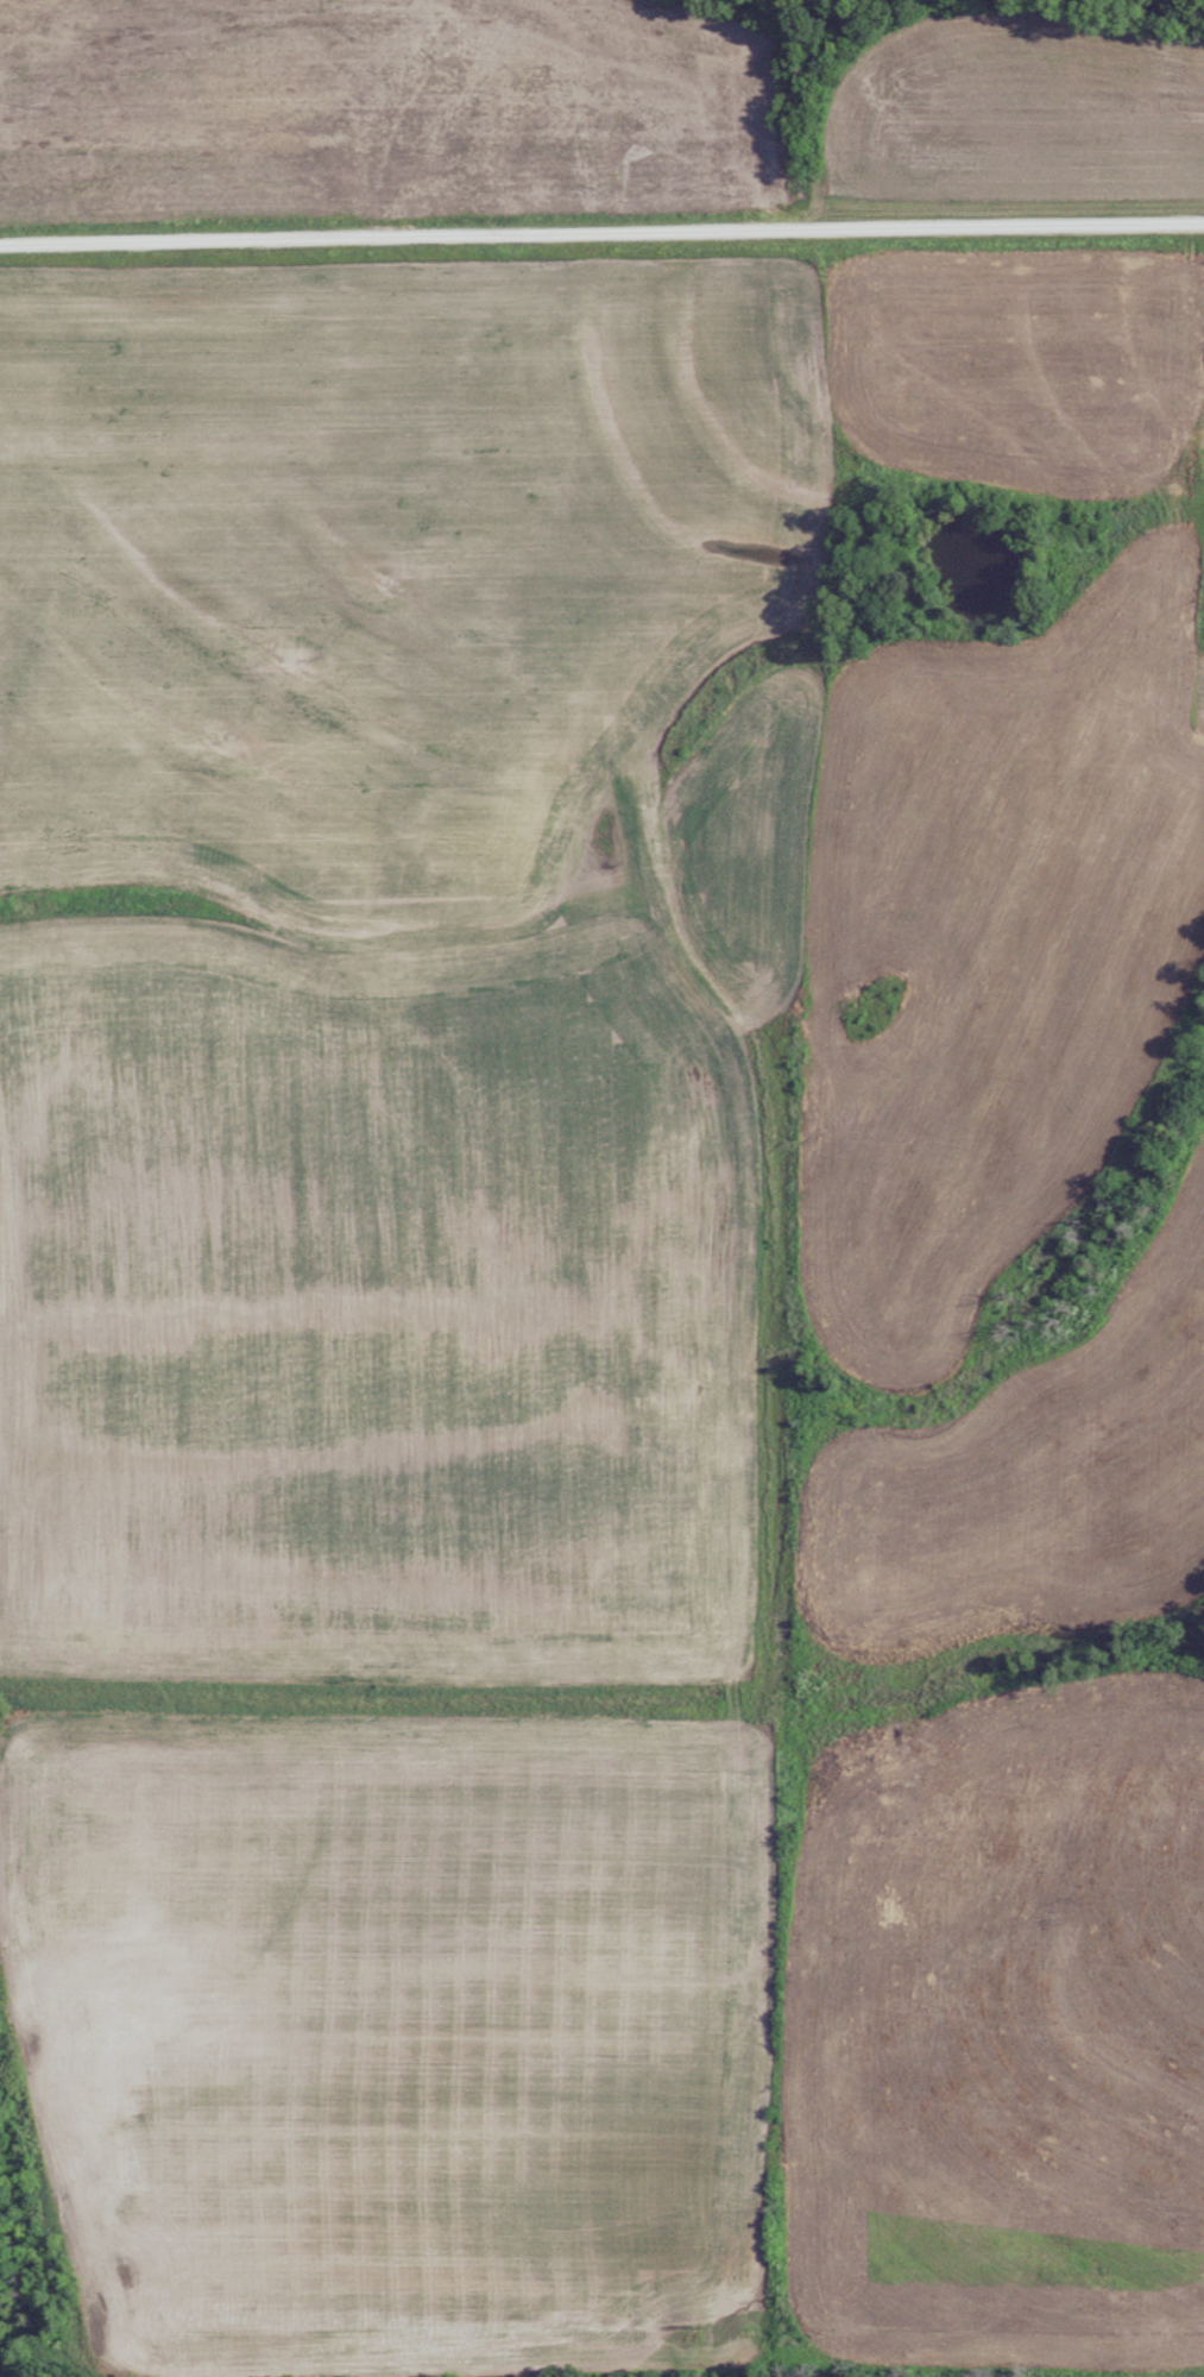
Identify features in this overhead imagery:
road: (601, 237)

